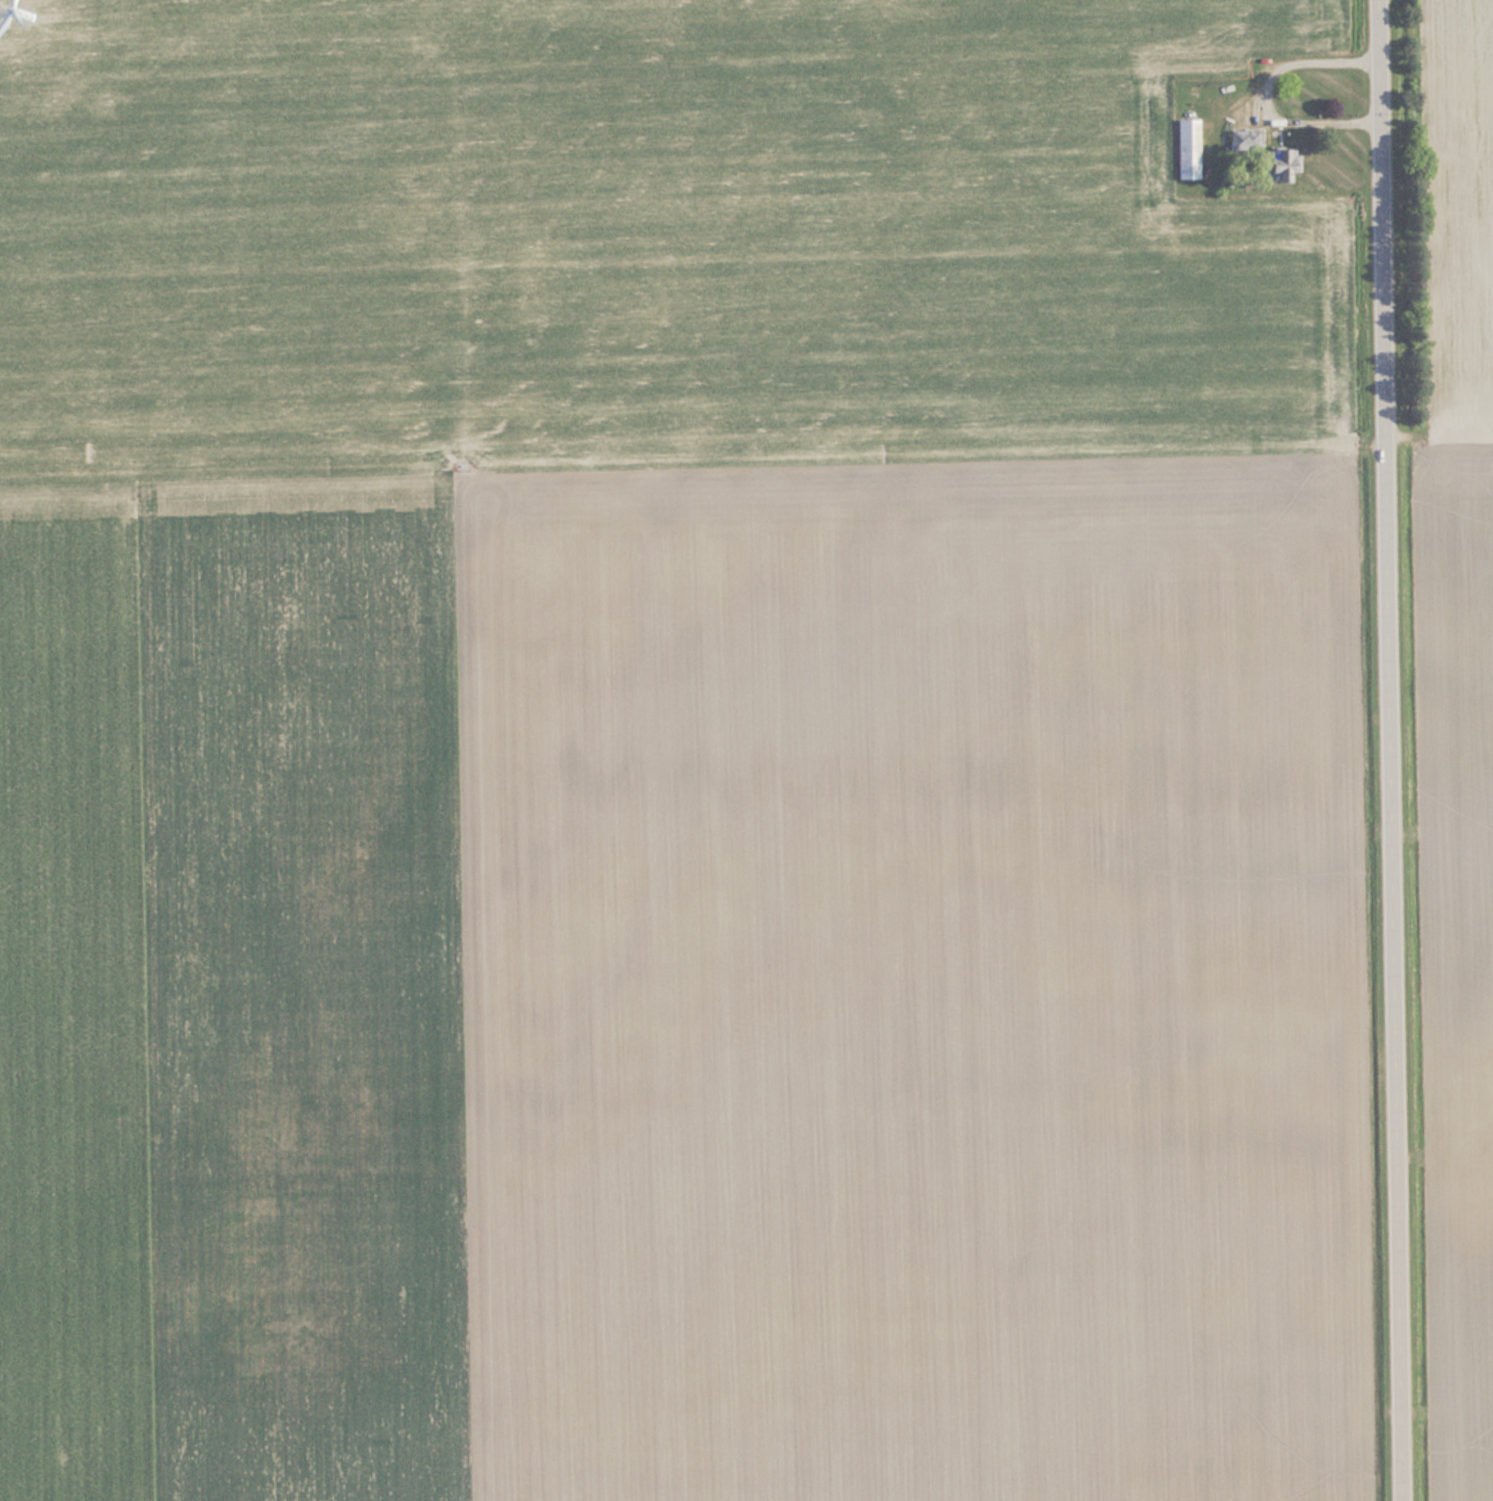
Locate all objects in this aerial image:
building: (1241, 139)
building: (1185, 148)
building: (1279, 159)
road: (1386, 750)

